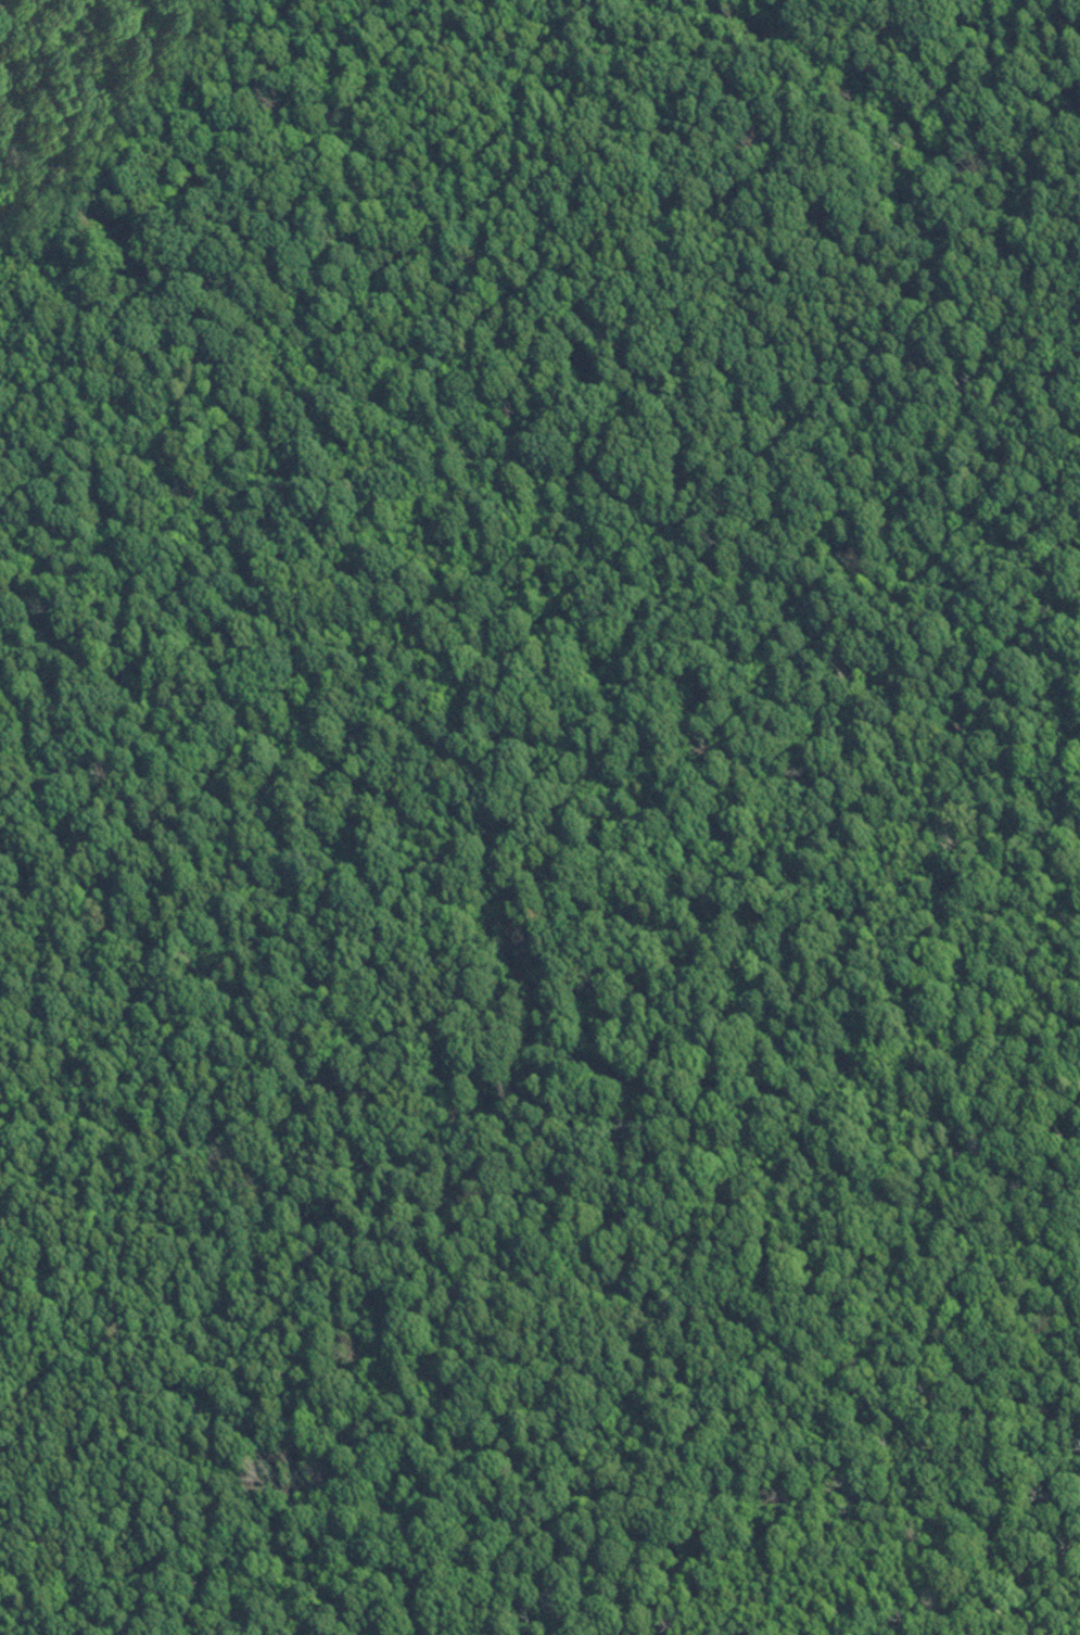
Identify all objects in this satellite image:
road: (1021, 1569)

